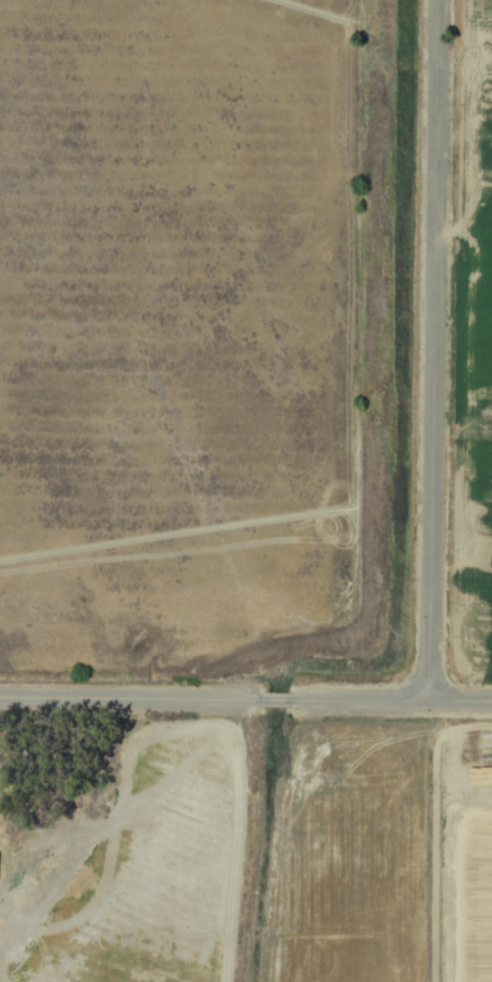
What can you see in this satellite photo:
road: (421, 347)
road: (246, 693)

